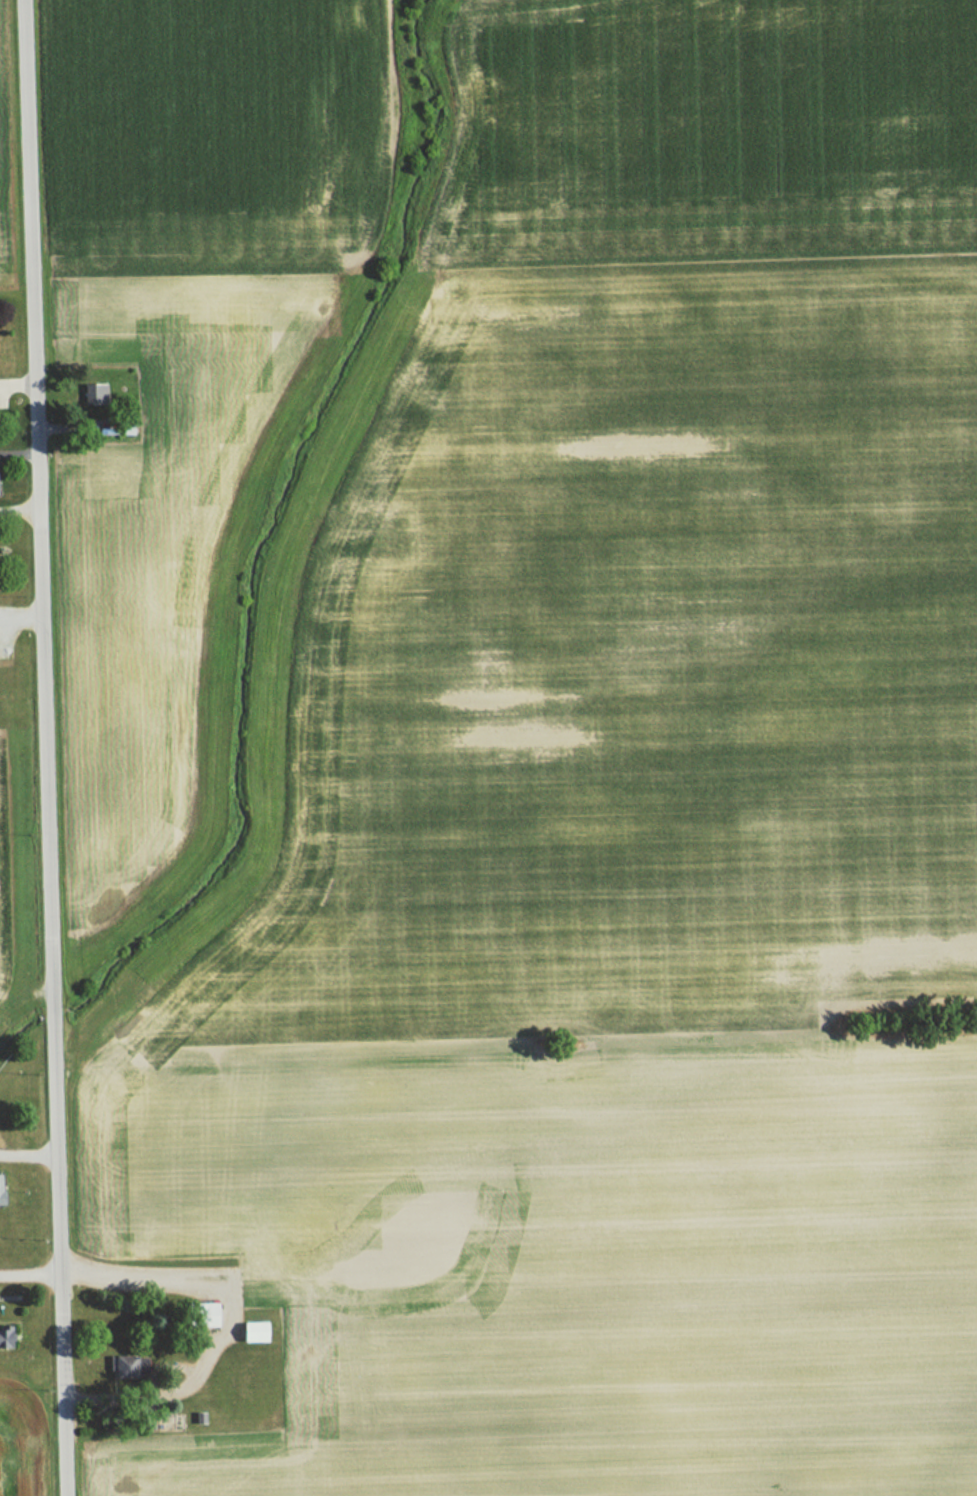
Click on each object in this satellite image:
building: (96, 394)
building: (1, 484)
crop: (652, 547)
road: (45, 748)
road: (28, 1154)
building: (0, 1185)
crop: (564, 1255)
road: (30, 1273)
road: (215, 1326)
building: (258, 1331)
building: (134, 1365)
crop: (22, 1441)

